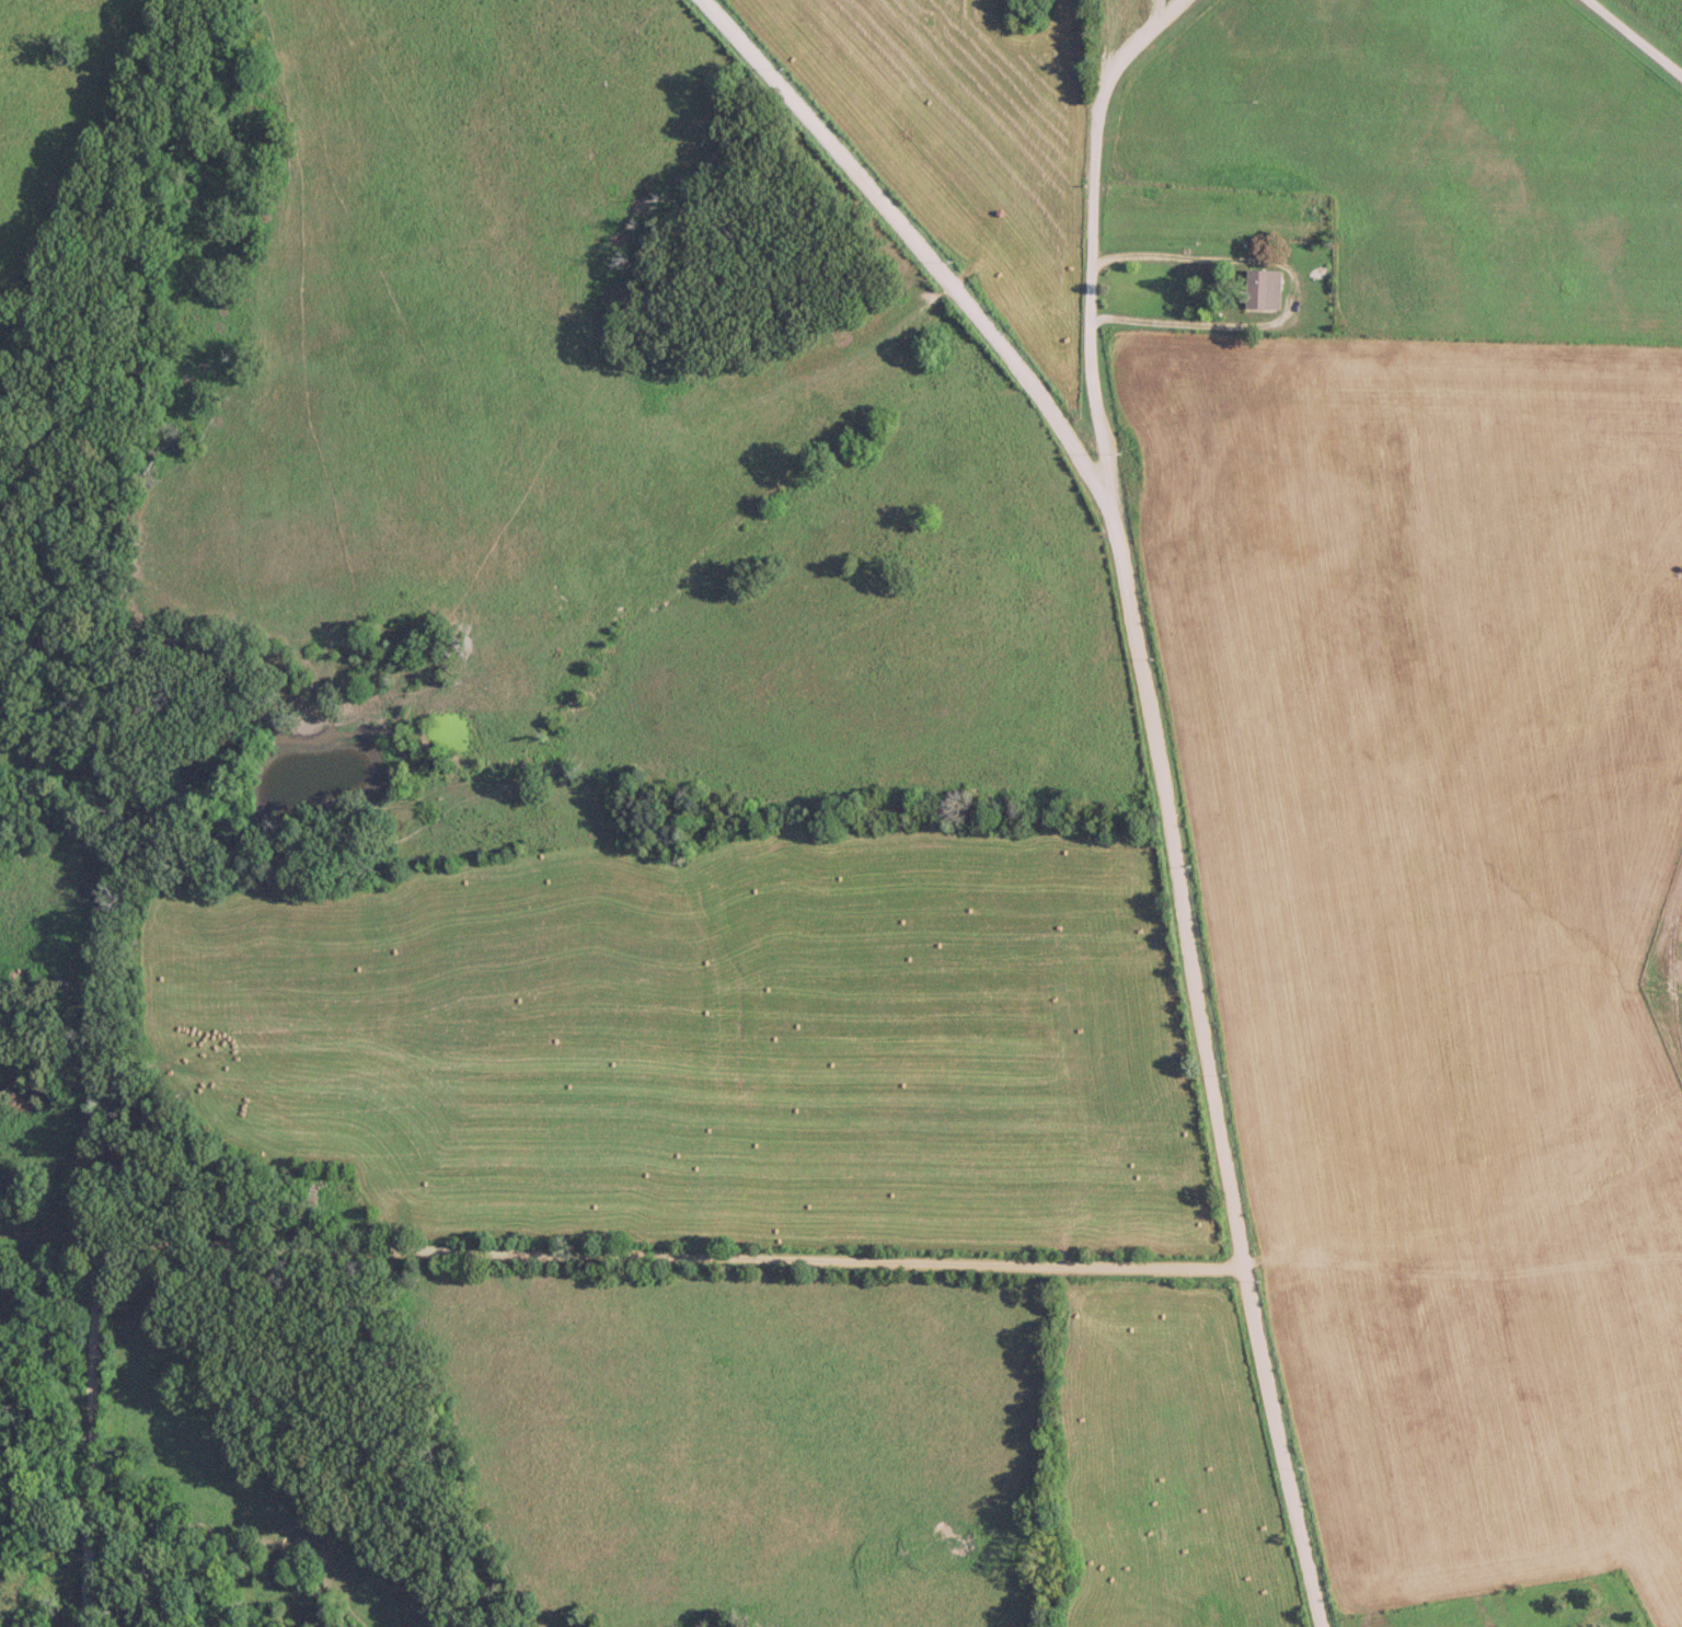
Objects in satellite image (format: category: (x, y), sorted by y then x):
road: (1633, 39)
road: (1087, 239)
building: (1263, 289)
road: (1294, 289)
road: (1152, 749)
road: (482, 1249)

